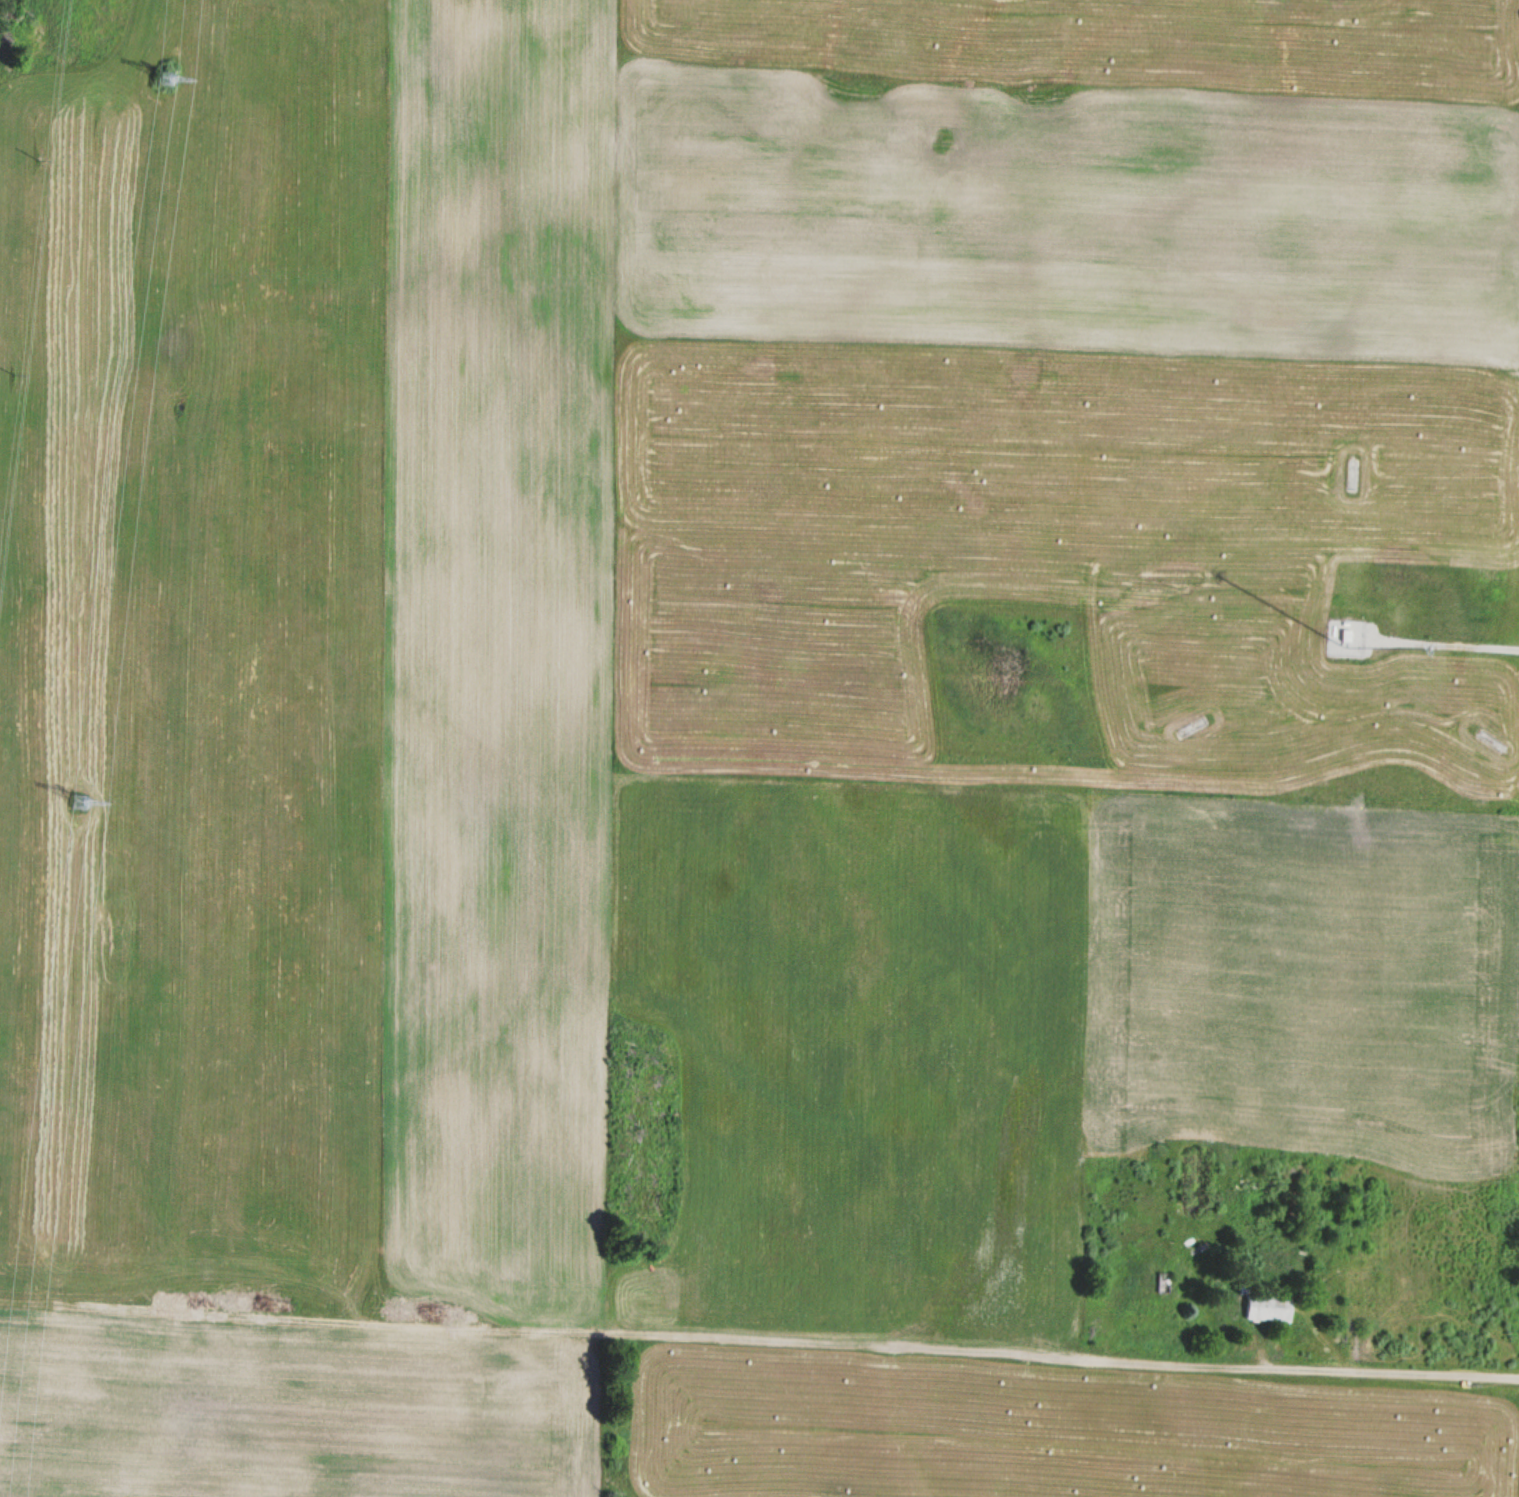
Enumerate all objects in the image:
power tower: (164, 75)
power tower: (82, 798)
building: (1267, 1308)
road: (1197, 1358)

